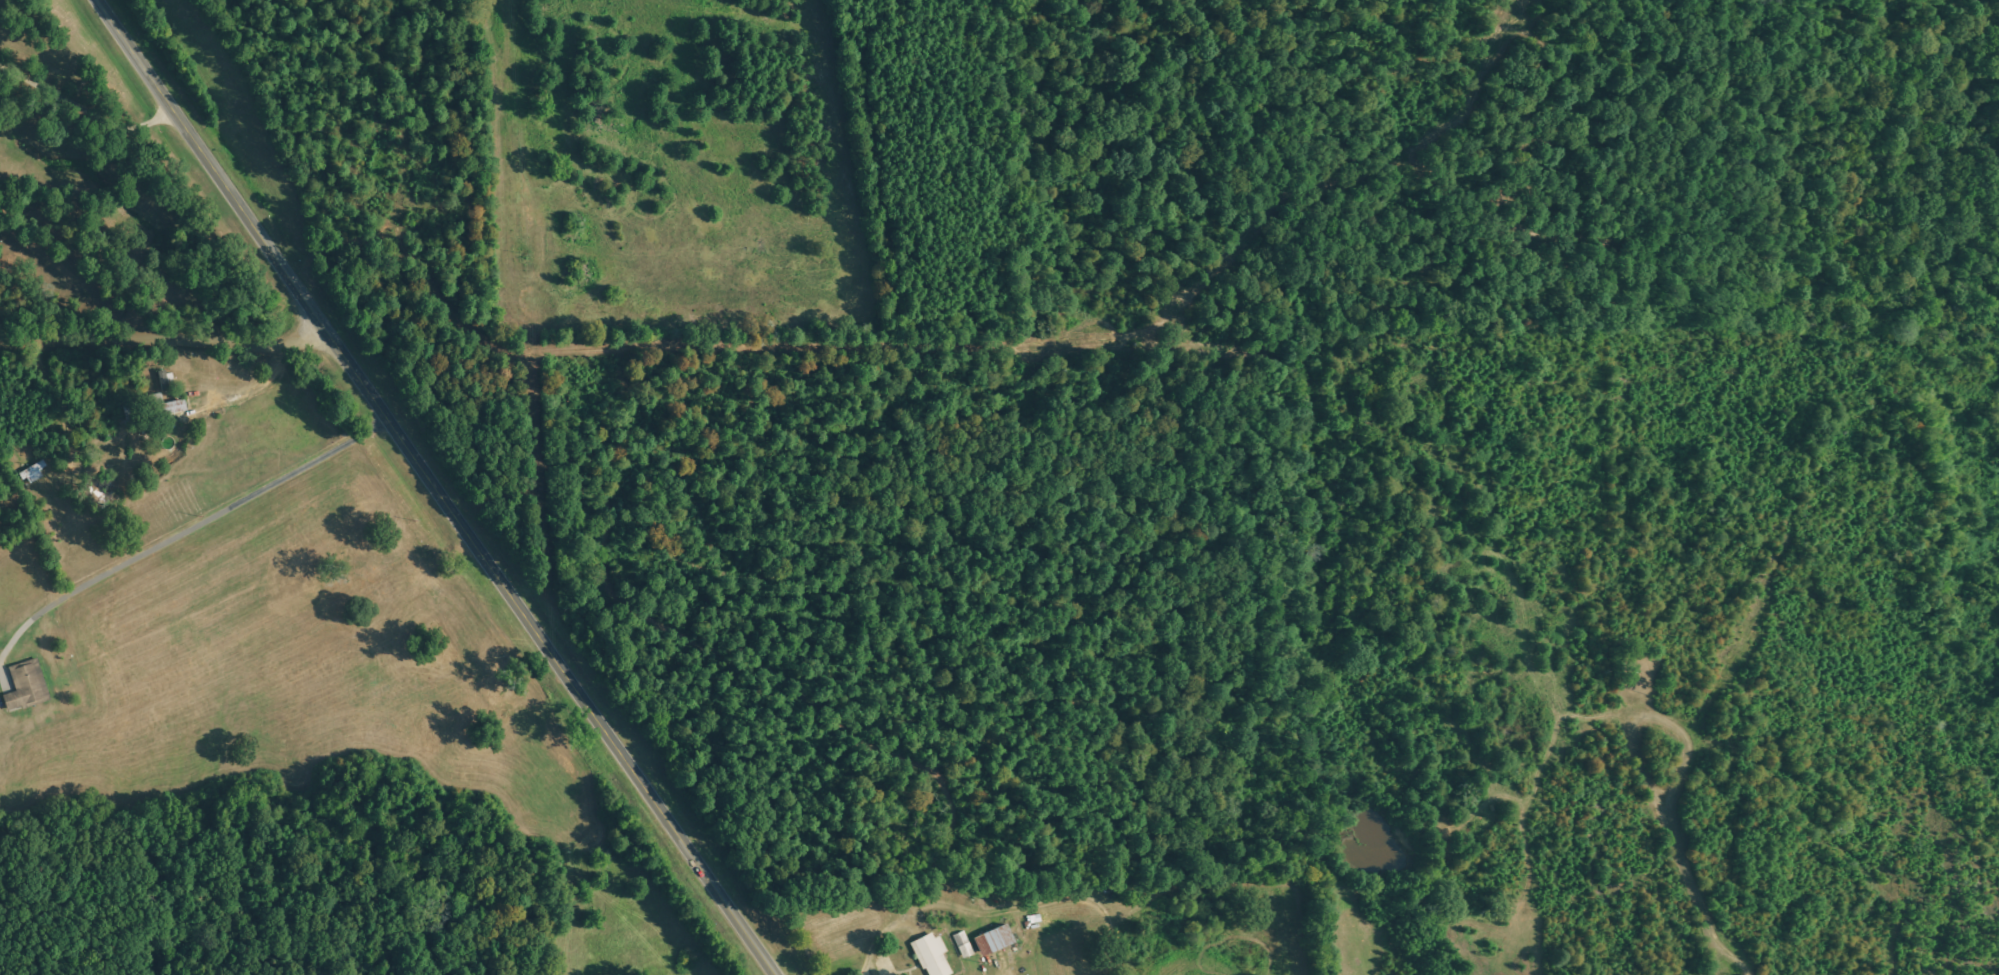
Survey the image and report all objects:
road: (209, 169)
road: (164, 349)
building: (169, 406)
road: (552, 653)
building: (27, 686)
building: (995, 940)
building: (964, 945)
building: (932, 955)

